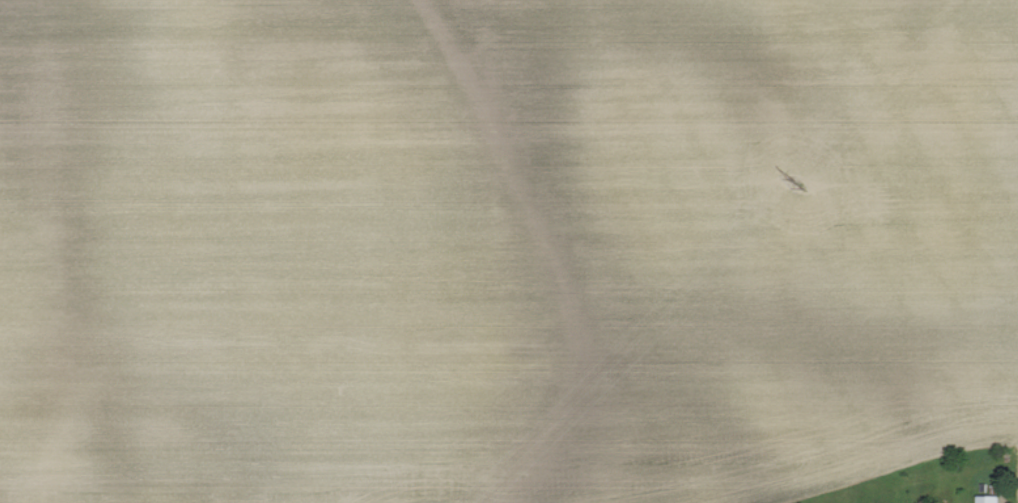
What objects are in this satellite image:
power tower: (798, 181)

